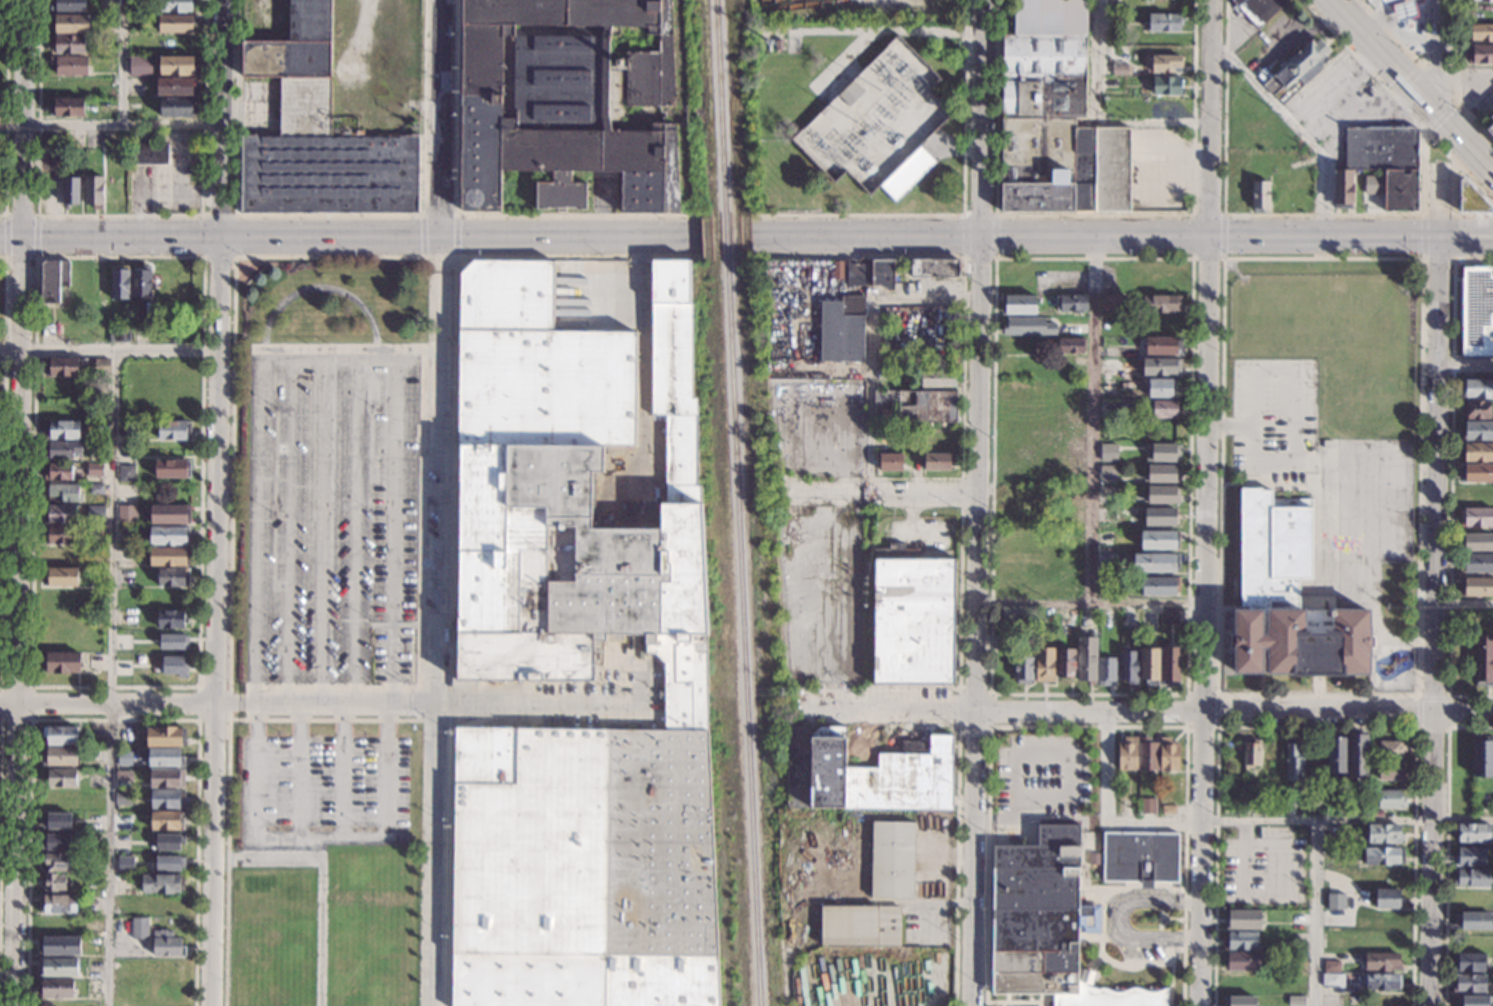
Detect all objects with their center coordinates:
building: (1385, 1)
building: (1481, 1)
building: (176, 5)
building: (67, 6)
building: (1259, 9)
road: (1382, 9)
building: (1405, 10)
building: (1163, 23)
building: (70, 24)
building: (175, 24)
building: (1481, 33)
building: (67, 44)
building: (778, 45)
building: (1479, 54)
road: (1441, 55)
road: (1412, 58)
road: (123, 61)
building: (1165, 64)
building: (70, 65)
building: (140, 65)
building: (177, 65)
building: (1298, 67)
building: (1119, 69)
road: (1469, 76)
road: (1455, 78)
road: (1415, 83)
building: (136, 85)
road: (1438, 85)
building: (175, 86)
building: (1167, 86)
parking lot: (1478, 88)
building: (850, 94)
building: (567, 100)
road: (1398, 100)
railway: (721, 105)
building: (177, 107)
building: (68, 108)
road: (5, 109)
road: (25, 117)
road: (441, 117)
building: (1053, 117)
building: (1491, 117)
road: (110, 122)
road: (1093, 122)
road: (1297, 128)
building: (1490, 129)
building: (318, 136)
building: (54, 146)
building: (149, 151)
building: (1387, 162)
road: (1423, 172)
building: (907, 174)
building: (1372, 184)
building: (1343, 188)
road: (1454, 188)
building: (93, 191)
building: (70, 192)
building: (1260, 195)
building: (1471, 199)
road: (710, 214)
road: (1093, 214)
road: (1251, 214)
road: (20, 215)
road: (118, 215)
road: (329, 215)
road: (439, 215)
road: (978, 215)
road: (1121, 234)
road: (11, 235)
road: (362, 235)
road: (455, 235)
road: (4, 236)
road: (36, 236)
road: (422, 236)
railway: (726, 236)
road: (963, 236)
road: (1192, 236)
road: (1223, 236)
road: (995, 237)
road: (1422, 237)
road: (202, 254)
road: (1454, 254)
road: (20, 257)
road: (511, 257)
road: (979, 259)
building: (934, 269)
building: (837, 270)
building: (857, 274)
building: (882, 274)
building: (53, 280)
building: (119, 282)
building: (141, 282)
road: (319, 286)
building: (1160, 302)
building: (1112, 303)
building: (1018, 304)
building: (1071, 304)
building: (1476, 311)
building: (1162, 325)
building: (1028, 326)
building: (842, 329)
road: (871, 343)
building: (1070, 346)
building: (1162, 346)
road: (347, 347)
road: (109, 349)
road: (1210, 357)
road: (1465, 361)
building: (1111, 365)
building: (62, 366)
building: (101, 366)
building: (1161, 367)
building: (884, 375)
building: (937, 378)
building: (1108, 386)
building: (1159, 388)
building: (1478, 389)
building: (915, 406)
building: (1109, 406)
building: (1164, 409)
building: (1477, 410)
road: (1090, 419)
parking lot: (1274, 419)
road: (1231, 425)
building: (62, 430)
building: (127, 430)
building: (173, 430)
building: (1041, 431)
building: (1477, 431)
road: (1437, 440)
building: (1326, 444)
building: (61, 449)
building: (1161, 450)
building: (1108, 452)
building: (1478, 452)
road: (1299, 461)
building: (888, 462)
building: (937, 462)
road: (2, 469)
road: (19, 469)
building: (170, 469)
building: (1108, 469)
building: (94, 470)
building: (59, 471)
building: (125, 473)
building: (1162, 473)
building: (1476, 474)
road: (1451, 480)
building: (97, 489)
building: (1107, 489)
building: (65, 493)
building: (1161, 494)
road: (921, 496)
building: (1475, 496)
road: (216, 502)
road: (975, 502)
building: (95, 513)
building: (127, 514)
building: (169, 514)
building: (60, 515)
building: (1107, 515)
building: (1161, 517)
building: (1476, 517)
parking lot: (331, 518)
road: (323, 525)
road: (355, 525)
road: (288, 526)
building: (95, 531)
building: (60, 535)
building: (168, 536)
road: (438, 540)
building: (1160, 540)
building: (1477, 541)
road: (451, 551)
building: (96, 555)
building: (60, 556)
building: (168, 556)
building: (1107, 562)
building: (1156, 562)
building: (1476, 563)
building: (61, 577)
building: (173, 578)
building: (1160, 585)
building: (1476, 587)
building: (1287, 599)
road: (1464, 602)
road: (1090, 604)
building: (1016, 614)
building: (1169, 616)
building: (169, 620)
building: (1127, 620)
building: (1148, 620)
building: (912, 622)
railway: (743, 633)
building: (173, 641)
building: (1086, 660)
building: (1483, 660)
building: (61, 663)
building: (577, 663)
building: (1065, 663)
building: (1044, 665)
building: (174, 666)
building: (1149, 666)
building: (1128, 667)
building: (1169, 667)
building: (1023, 669)
building: (1106, 670)
road: (111, 677)
road: (31, 687)
road: (421, 692)
road: (1187, 694)
road: (992, 696)
road: (1417, 696)
road: (199, 703)
road: (8, 704)
road: (116, 704)
road: (432, 704)
road: (1187, 712)
road: (1001, 713)
road: (1219, 713)
road: (1318, 714)
road: (1463, 714)
road: (0, 718)
road: (114, 719)
road: (386, 720)
road: (1318, 729)
road: (1449, 729)
road: (1090, 730)
building: (60, 735)
building: (164, 737)
building: (1390, 749)
building: (1127, 754)
building: (94, 755)
road: (1072, 755)
building: (1147, 755)
building: (1169, 755)
building: (1251, 755)
building: (1335, 755)
building: (1357, 755)
building: (59, 756)
building: (161, 757)
building: (1483, 757)
building: (1272, 762)
building: (1294, 762)
road: (299, 770)
road: (342, 770)
building: (1391, 771)
building: (1460, 772)
building: (866, 773)
parking lot: (1041, 775)
building: (61, 778)
building: (166, 778)
road: (959, 785)
parking lot: (323, 790)
road: (994, 795)
building: (122, 798)
building: (1389, 799)
building: (166, 800)
building: (1166, 802)
building: (1147, 806)
building: (1169, 810)
building: (1375, 814)
building: (57, 821)
building: (165, 822)
road: (1245, 822)
building: (1473, 833)
building: (1383, 834)
road: (321, 836)
building: (169, 841)
building: (56, 842)
road: (1447, 845)
road: (14, 855)
building: (1140, 855)
building: (1382, 856)
building: (1470, 857)
building: (892, 860)
road: (1202, 860)
road: (1432, 860)
building: (57, 863)
building: (128, 863)
building: (169, 863)
parking lot: (1266, 868)
road: (322, 876)
building: (1472, 878)
building: (53, 882)
building: (161, 884)
building: (1337, 898)
road: (1271, 899)
building: (1389, 899)
building: (57, 905)
road: (1314, 914)
road: (1120, 920)
building: (1243, 920)
building: (1473, 920)
building: (1047, 924)
road: (416, 925)
road: (433, 925)
road: (448, 925)
building: (860, 926)
building: (139, 928)
building: (1241, 940)
building: (59, 946)
building: (166, 946)
building: (1243, 961)
building: (1382, 962)
building: (1468, 962)
building: (58, 967)
building: (1331, 967)
road: (1171, 971)
building: (935, 972)
building: (1332, 981)
building: (1241, 982)
building: (1381, 982)
building: (1469, 983)
building: (56, 988)
building: (864, 992)
road: (1007, 1000)
road: (1045, 1000)
building: (1243, 1000)
building: (1473, 1000)
road: (1016, 1002)

